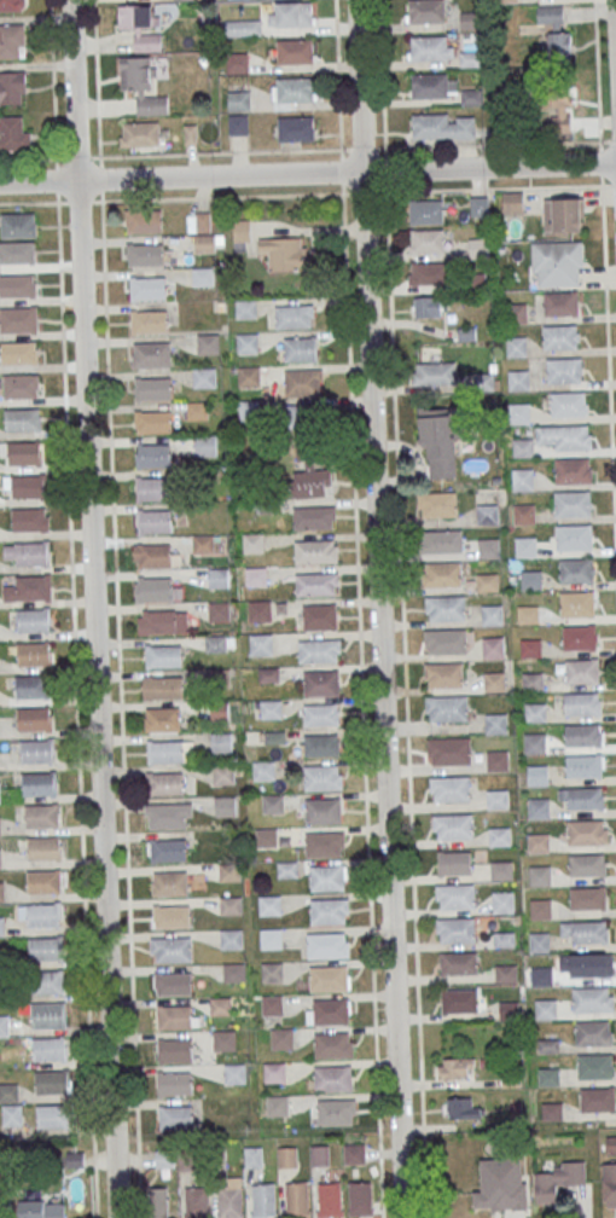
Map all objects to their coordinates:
building: (182, 0)
building: (10, 5)
building: (426, 11)
building: (295, 14)
building: (141, 27)
building: (243, 28)
building: (554, 34)
building: (12, 40)
building: (431, 48)
building: (295, 51)
building: (470, 58)
building: (238, 63)
road: (382, 74)
road: (97, 79)
building: (434, 85)
building: (141, 86)
building: (12, 88)
building: (295, 89)
road: (598, 92)
building: (471, 95)
building: (240, 100)
road: (54, 101)
building: (554, 111)
building: (238, 124)
building: (443, 126)
building: (296, 128)
building: (13, 134)
building: (140, 134)
road: (500, 144)
road: (100, 156)
road: (77, 157)
road: (28, 158)
road: (308, 173)
building: (512, 202)
road: (51, 203)
building: (480, 207)
building: (424, 211)
building: (568, 214)
building: (143, 220)
building: (17, 225)
building: (242, 234)
building: (426, 240)
building: (205, 243)
building: (17, 251)
building: (283, 253)
building: (145, 254)
building: (557, 262)
building: (428, 273)
building: (203, 275)
building: (17, 285)
building: (147, 286)
building: (560, 303)
building: (426, 307)
building: (245, 308)
building: (516, 313)
building: (292, 317)
building: (18, 319)
building: (149, 321)
building: (559, 336)
building: (208, 343)
building: (248, 343)
building: (516, 346)
building: (301, 348)
building: (18, 352)
building: (151, 354)
road: (608, 367)
building: (564, 369)
building: (434, 373)
building: (249, 376)
building: (204, 378)
building: (518, 379)
building: (303, 382)
building: (21, 384)
building: (152, 389)
building: (568, 402)
building: (198, 410)
building: (249, 410)
building: (519, 412)
building: (300, 417)
building: (22, 419)
building: (153, 422)
building: (564, 436)
building: (205, 445)
building: (436, 445)
building: (522, 447)
building: (21, 453)
building: (153, 456)
building: (573, 471)
building: (312, 474)
building: (522, 478)
building: (28, 486)
building: (152, 488)
building: (573, 503)
building: (437, 504)
building: (524, 514)
building: (487, 515)
building: (314, 517)
building: (30, 518)
building: (155, 522)
building: (574, 535)
building: (440, 541)
building: (254, 543)
building: (203, 545)
building: (525, 546)
building: (488, 549)
building: (315, 551)
building: (29, 552)
building: (155, 556)
building: (576, 570)
building: (442, 574)
building: (256, 575)
building: (219, 578)
building: (531, 580)
building: (486, 582)
building: (315, 584)
building: (29, 588)
building: (155, 588)
road: (402, 597)
building: (576, 603)
road: (359, 608)
road: (379, 608)
building: (446, 608)
road: (92, 609)
building: (219, 610)
building: (260, 610)
building: (492, 614)
building: (528, 614)
building: (319, 616)
building: (33, 620)
building: (162, 621)
building: (577, 637)
building: (446, 640)
building: (216, 643)
building: (261, 645)
building: (493, 648)
building: (529, 648)
building: (319, 650)
building: (34, 654)
building: (163, 656)
building: (582, 671)
building: (443, 673)
building: (493, 681)
building: (533, 681)
building: (321, 683)
building: (31, 686)
building: (162, 686)
building: (581, 703)
building: (446, 708)
road: (121, 709)
building: (271, 709)
road: (77, 710)
building: (219, 710)
building: (535, 712)
building: (321, 714)
building: (34, 719)
building: (162, 719)
building: (495, 723)
building: (583, 735)
building: (221, 741)
building: (534, 743)
building: (322, 746)
building: (37, 750)
building: (448, 750)
building: (164, 752)
building: (498, 760)
building: (583, 765)
building: (265, 771)
building: (223, 773)
building: (536, 775)
building: (322, 777)
building: (40, 783)
building: (164, 783)
building: (449, 788)
building: (0, 791)
building: (581, 796)
building: (496, 799)
building: (272, 802)
building: (225, 805)
building: (539, 807)
building: (324, 811)
building: (41, 814)
building: (167, 814)
building: (0, 825)
building: (453, 825)
building: (585, 830)
building: (499, 836)
building: (266, 837)
building: (537, 842)
building: (324, 845)
building: (43, 847)
building: (169, 851)
building: (0, 858)
building: (454, 863)
building: (586, 864)
building: (289, 870)
building: (501, 870)
building: (229, 871)
building: (540, 875)
building: (327, 878)
building: (45, 881)
building: (170, 882)
building: (1, 892)
building: (455, 895)
building: (587, 897)
building: (502, 900)
building: (231, 905)
building: (269, 905)
building: (541, 907)
building: (329, 911)
building: (43, 915)
building: (173, 916)
building: (1, 926)
building: (455, 928)
building: (585, 930)
building: (271, 938)
building: (231, 939)
building: (504, 939)
building: (539, 942)
building: (327, 945)
building: (46, 949)
building: (172, 949)
building: (459, 963)
building: (591, 964)
building: (233, 971)
building: (271, 971)
building: (506, 973)
building: (541, 976)
building: (329, 979)
building: (46, 982)
building: (174, 984)
building: (592, 998)
building: (463, 1000)
building: (272, 1004)
building: (221, 1005)
building: (546, 1009)
building: (509, 1010)
building: (332, 1011)
building: (48, 1015)
building: (174, 1015)
building: (4, 1025)
building: (593, 1032)
building: (281, 1038)
building: (225, 1039)
building: (332, 1045)
building: (50, 1049)
building: (175, 1050)
building: (594, 1066)
building: (455, 1067)
building: (274, 1072)
building: (234, 1073)
building: (548, 1077)
building: (332, 1078)
building: (53, 1081)
building: (174, 1083)
building: (10, 1092)
building: (598, 1100)
building: (277, 1106)
building: (463, 1109)
building: (336, 1110)
building: (552, 1110)
building: (12, 1115)
building: (54, 1115)
building: (176, 1116)
building: (611, 1144)
building: (354, 1153)
building: (319, 1155)
building: (254, 1156)
building: (287, 1156)
building: (215, 1158)
building: (164, 1159)
building: (186, 1159)
building: (558, 1179)
building: (502, 1184)
building: (609, 1184)
building: (360, 1197)
building: (296, 1199)
building: (329, 1199)
building: (263, 1200)
building: (231, 1201)
building: (158, 1202)
building: (197, 1202)
building: (41, 1208)

